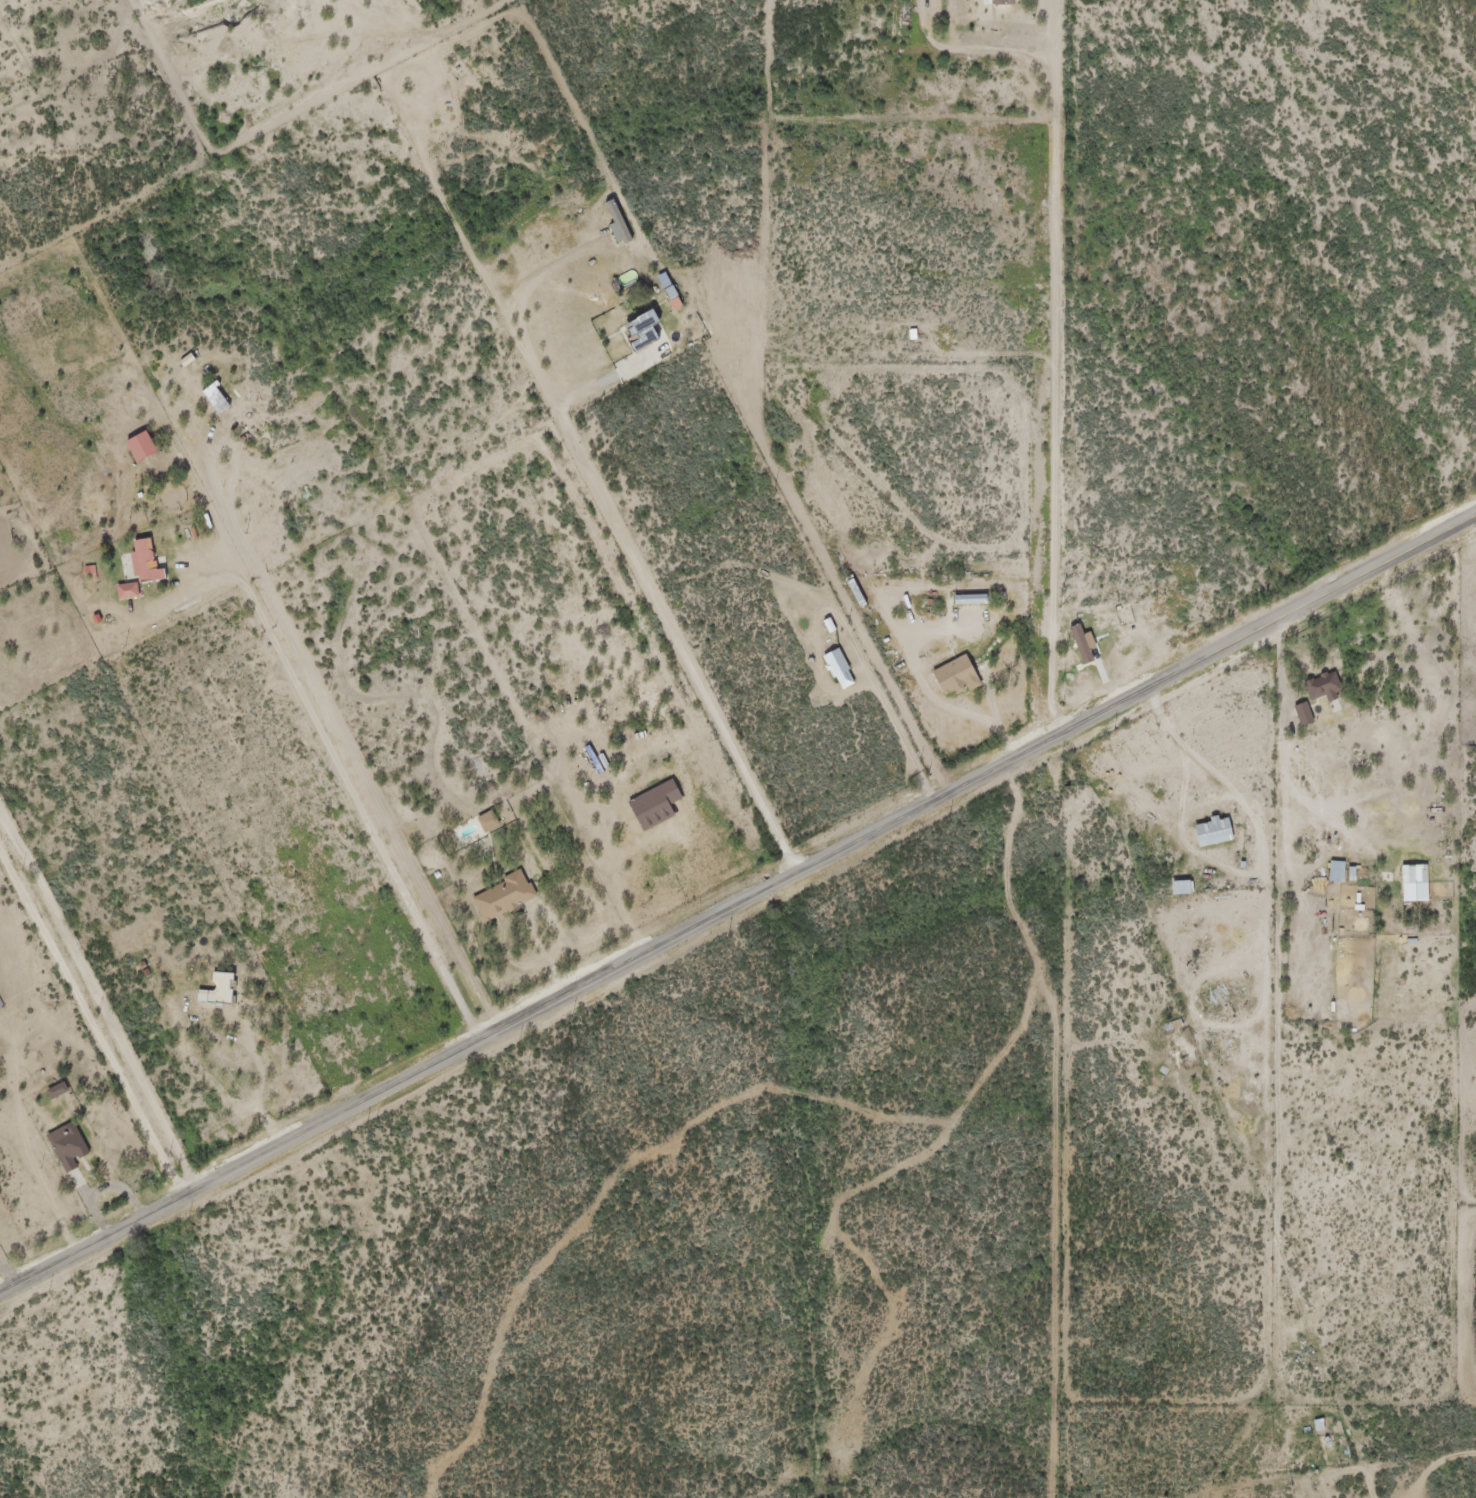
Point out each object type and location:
building: (994, 3)
building: (636, 332)
building: (143, 442)
building: (850, 596)
building: (964, 601)
road: (879, 608)
building: (1078, 645)
building: (833, 671)
building: (949, 679)
building: (1316, 688)
building: (1296, 716)
road: (1291, 805)
building: (1206, 833)
building: (1408, 885)
building: (496, 899)
road: (738, 905)
road: (1312, 951)
building: (217, 984)
building: (68, 1142)
road: (1263, 1416)

